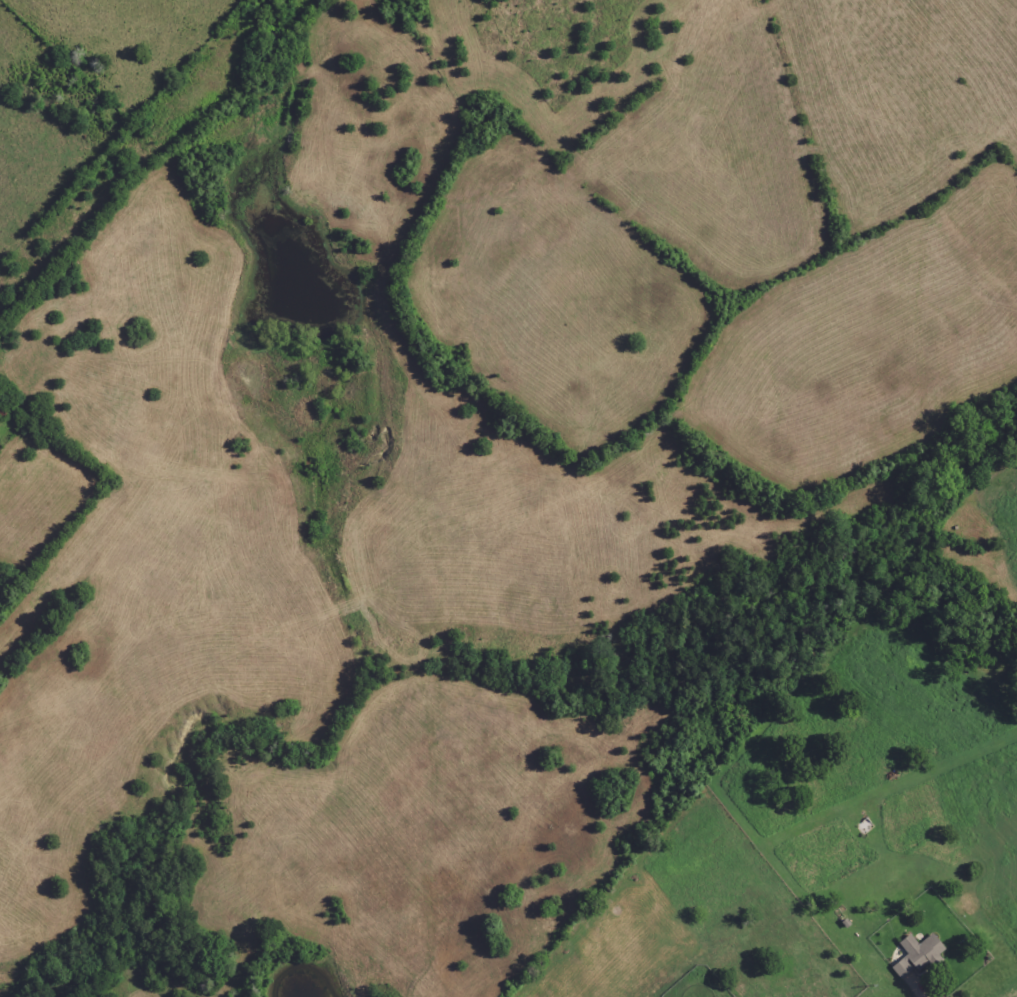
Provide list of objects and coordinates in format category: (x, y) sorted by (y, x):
building: (918, 955)
road: (943, 976)

